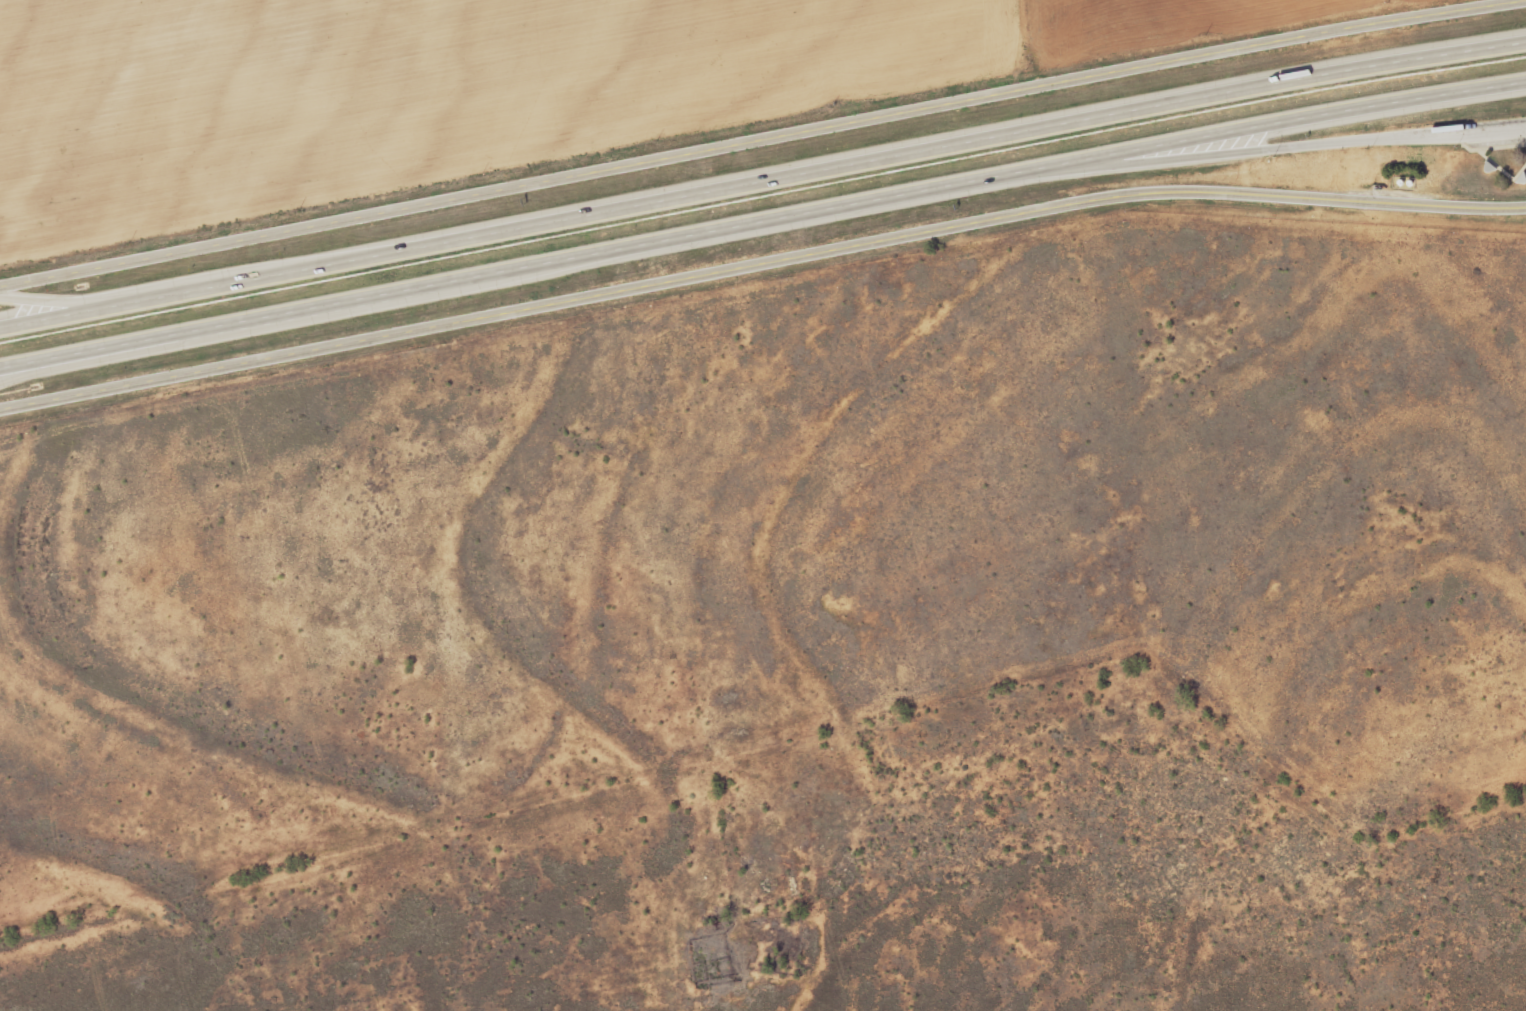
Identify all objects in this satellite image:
road: (1458, 131)
road: (763, 149)
road: (1109, 164)
road: (762, 179)
road: (762, 219)
road: (759, 260)
road: (192, 278)
road: (89, 359)

